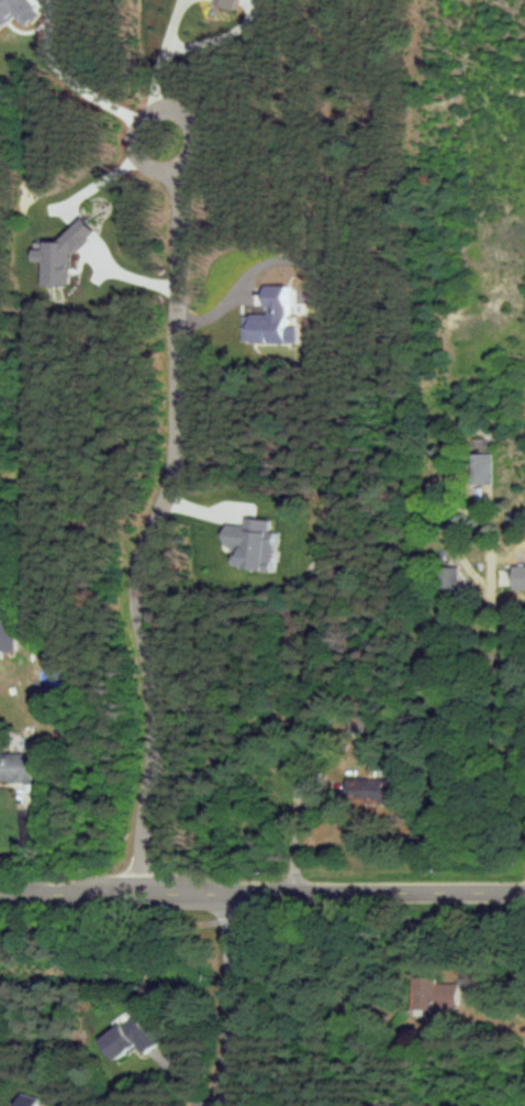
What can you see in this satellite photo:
building: (224, 3)
building: (15, 11)
road: (159, 44)
road: (75, 86)
building: (59, 254)
road: (238, 288)
building: (269, 319)
building: (479, 468)
road: (141, 513)
building: (248, 543)
building: (447, 577)
building: (517, 577)
building: (5, 633)
road: (501, 663)
building: (14, 767)
building: (368, 789)
road: (261, 899)
road: (260, 918)
building: (433, 994)
road: (232, 1004)
building: (126, 1038)
building: (24, 1099)

